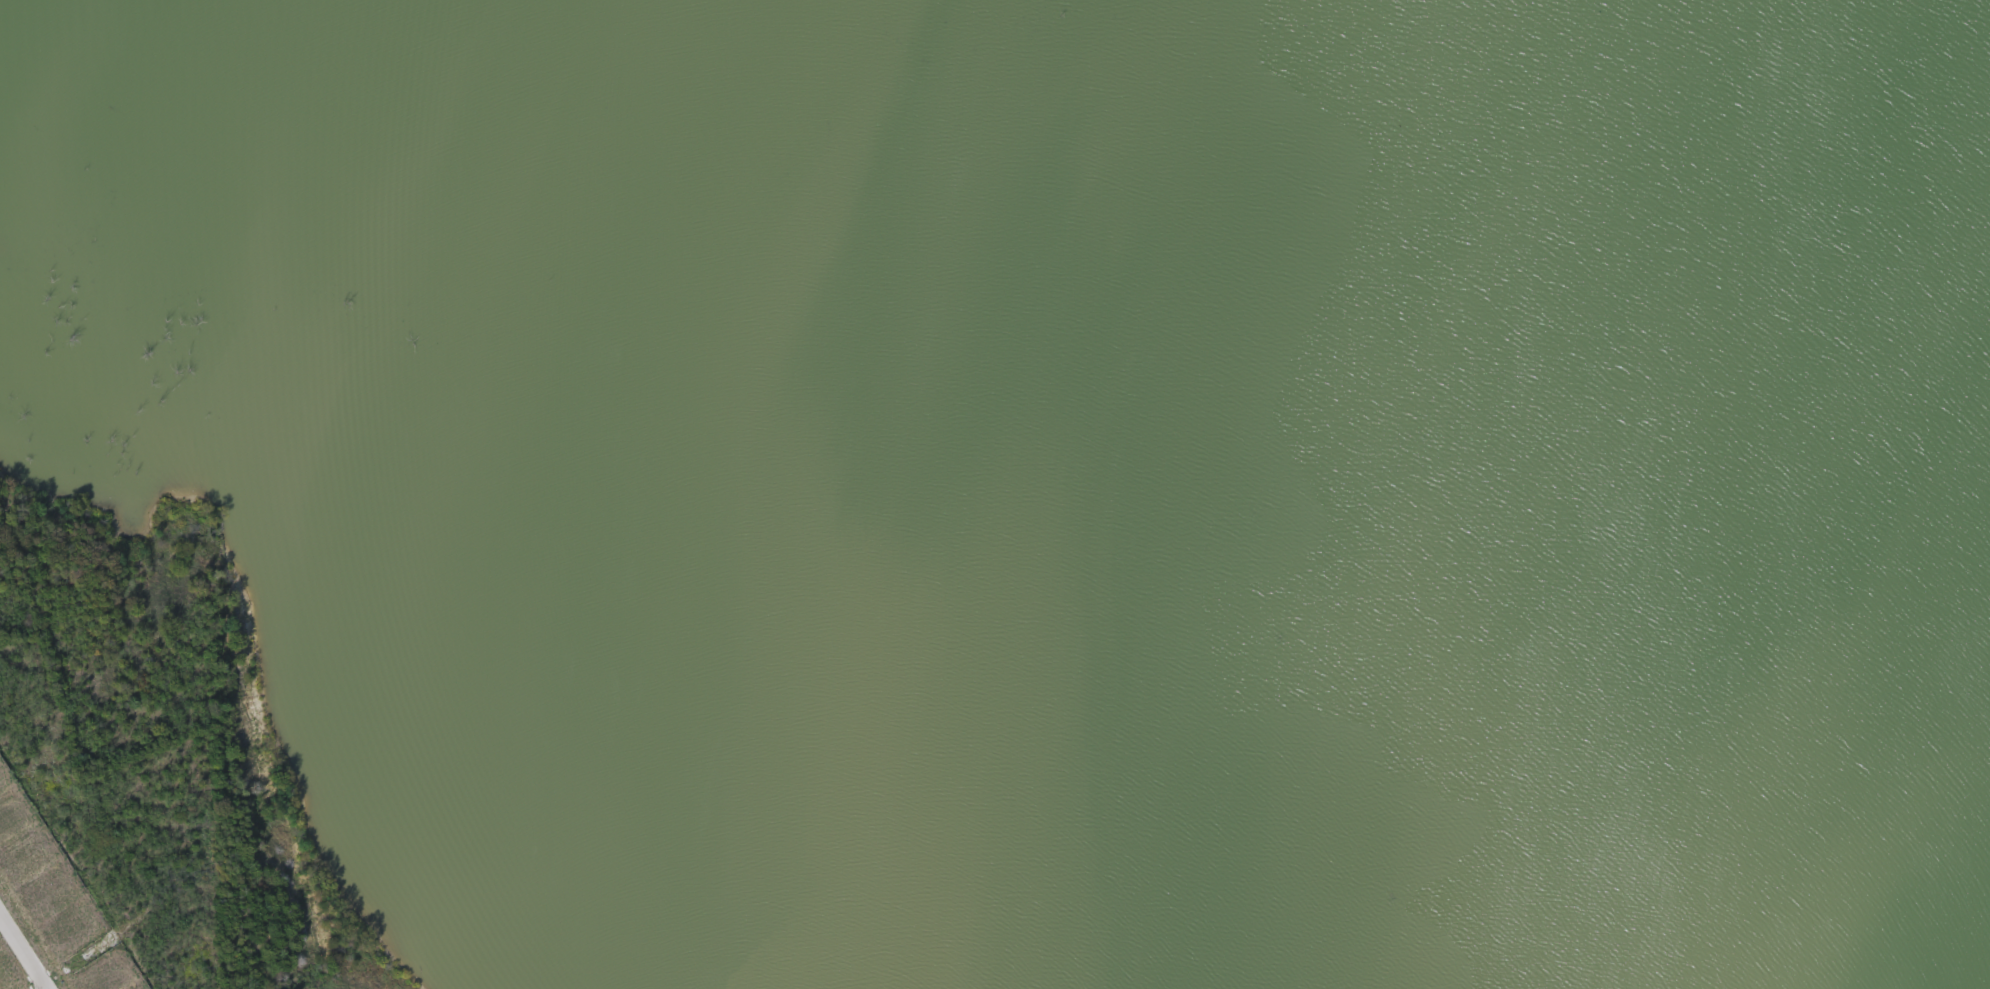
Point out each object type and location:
building: (574, 323)
building: (430, 390)
building: (383, 418)
building: (970, 439)
road: (23, 951)

